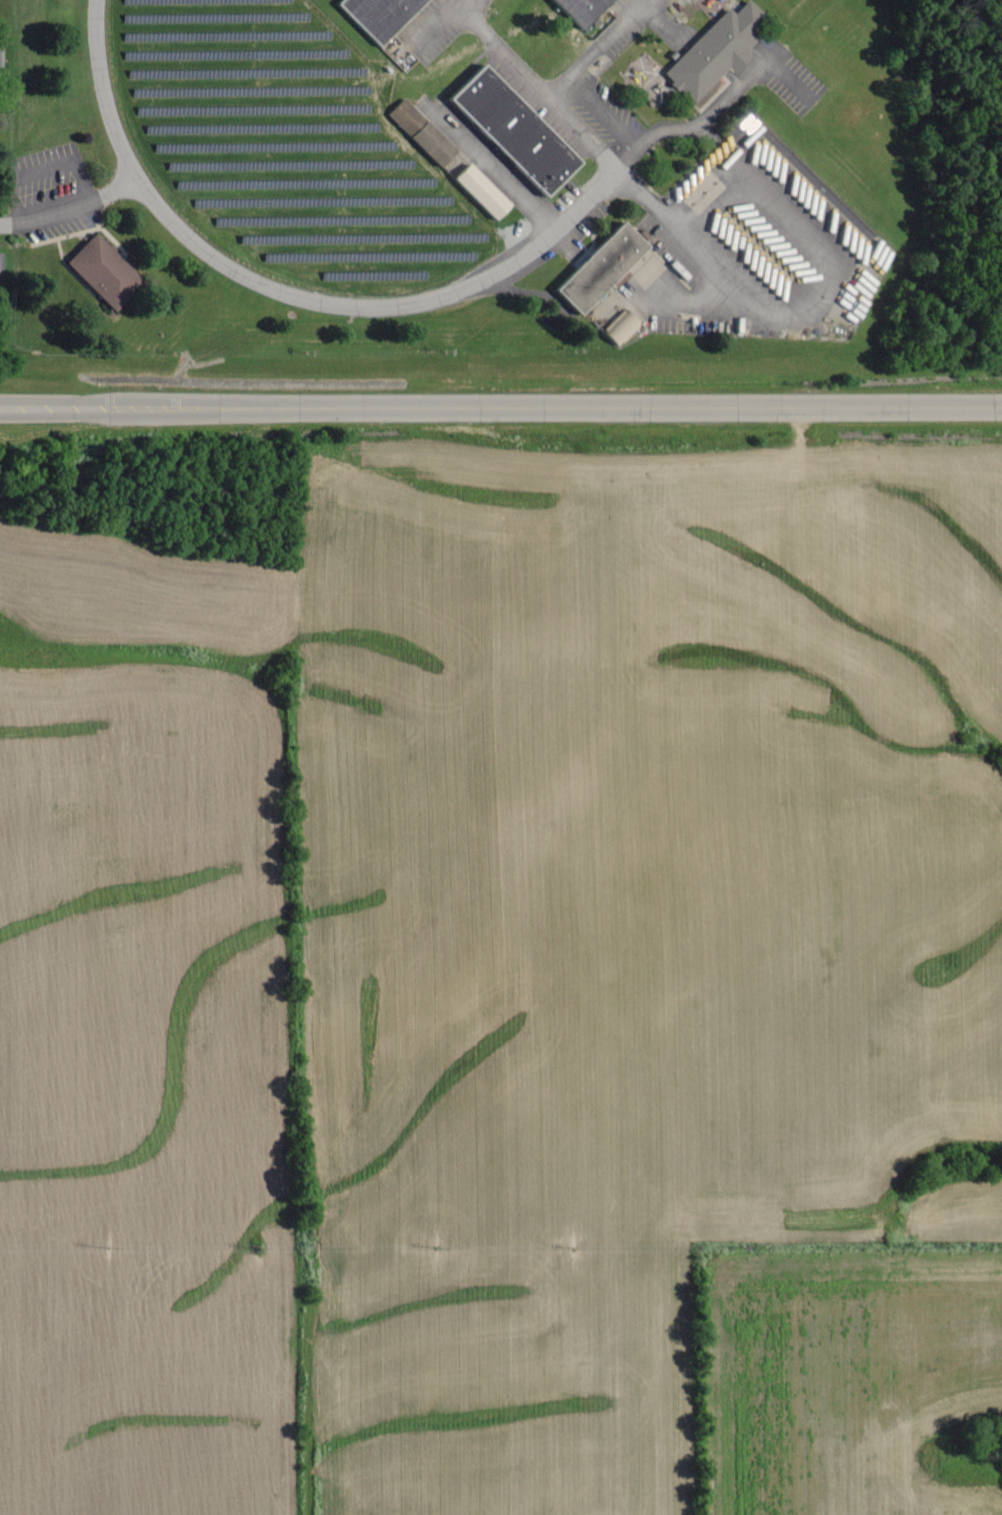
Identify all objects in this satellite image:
building: (580, 9)
building: (378, 15)
road: (434, 19)
road: (595, 46)
building: (720, 46)
road: (537, 83)
road: (718, 105)
building: (422, 127)
building: (512, 133)
road: (500, 169)
building: (481, 191)
road: (718, 205)
road: (72, 211)
road: (796, 220)
building: (599, 269)
building: (106, 270)
road: (718, 270)
road: (292, 285)
building: (620, 328)
road: (501, 407)

